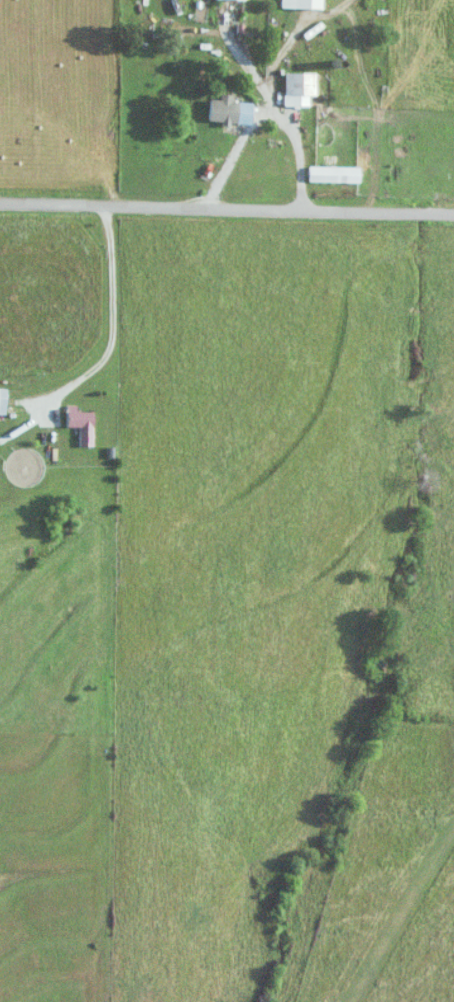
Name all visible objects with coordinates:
building: (304, 84)
road: (284, 110)
building: (234, 111)
building: (338, 174)
road: (226, 210)
road: (111, 322)
building: (4, 402)
building: (86, 425)

